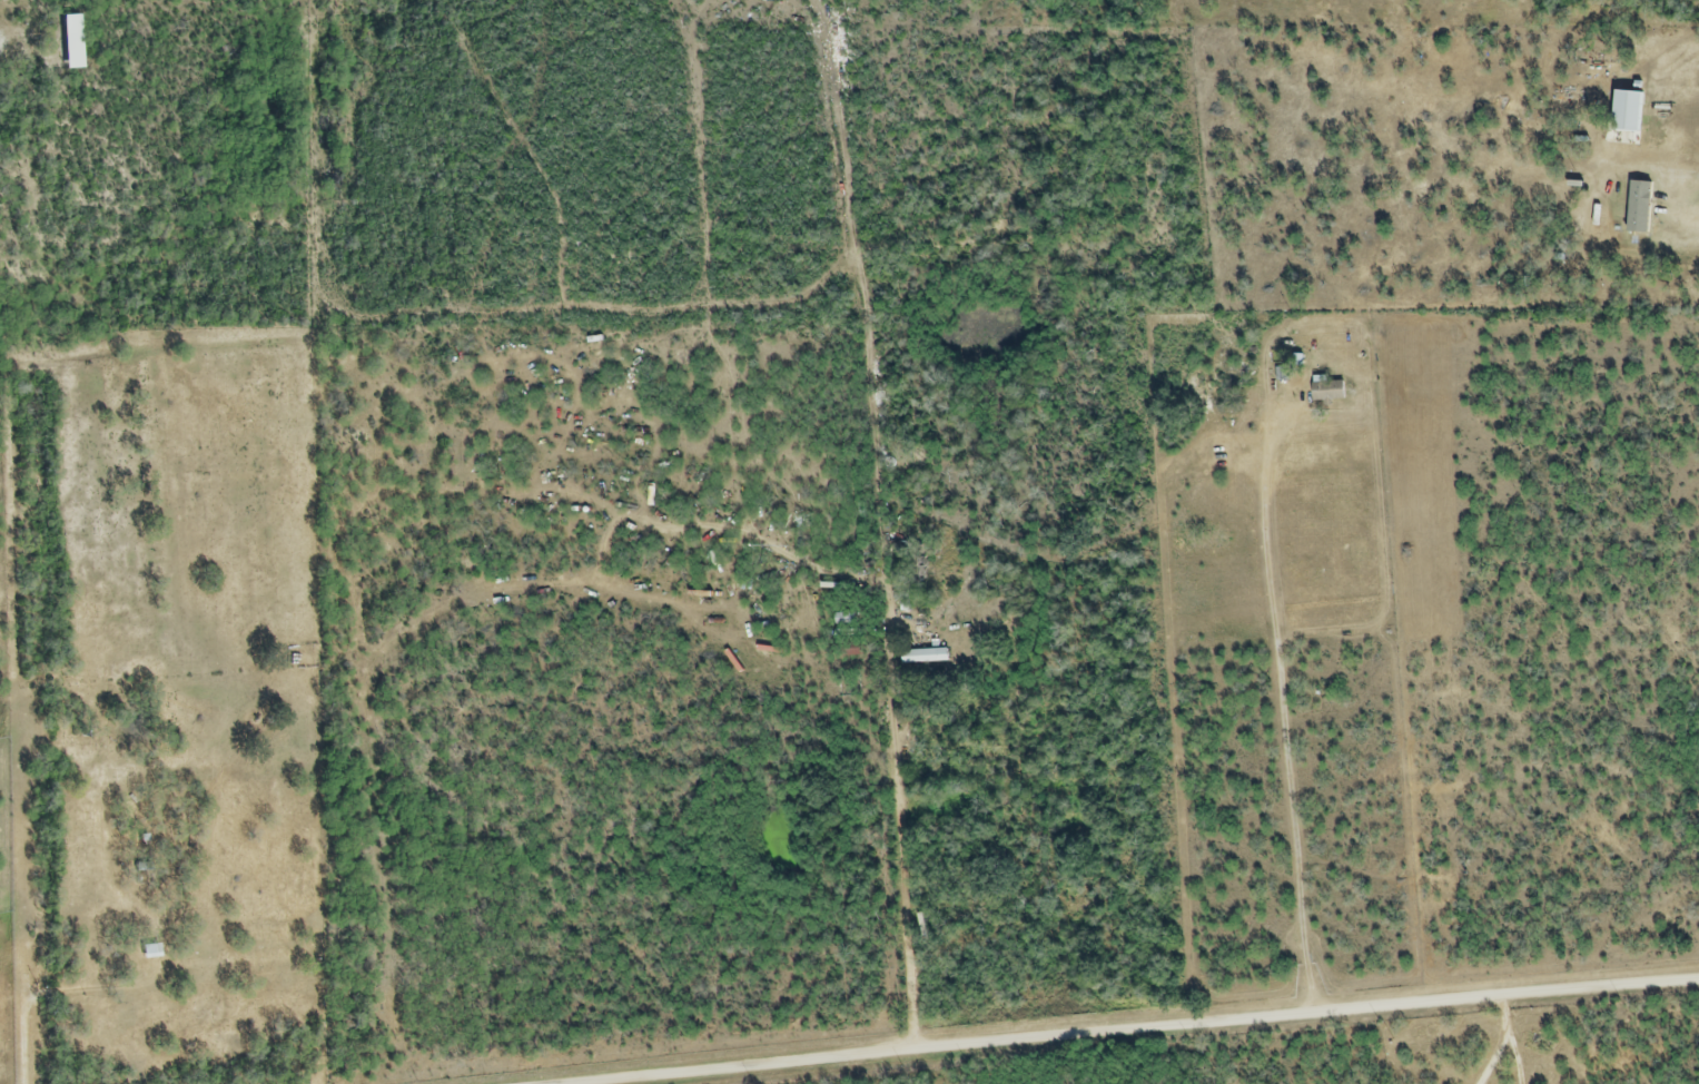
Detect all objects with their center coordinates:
building: (70, 43)
building: (1626, 112)
building: (1578, 238)
building: (1326, 391)
building: (851, 651)
building: (923, 658)
road: (1281, 727)
road: (902, 844)
building: (149, 950)
road: (33, 999)
road: (1509, 1013)
road: (1133, 1029)
road: (1519, 1056)
road: (1494, 1057)

